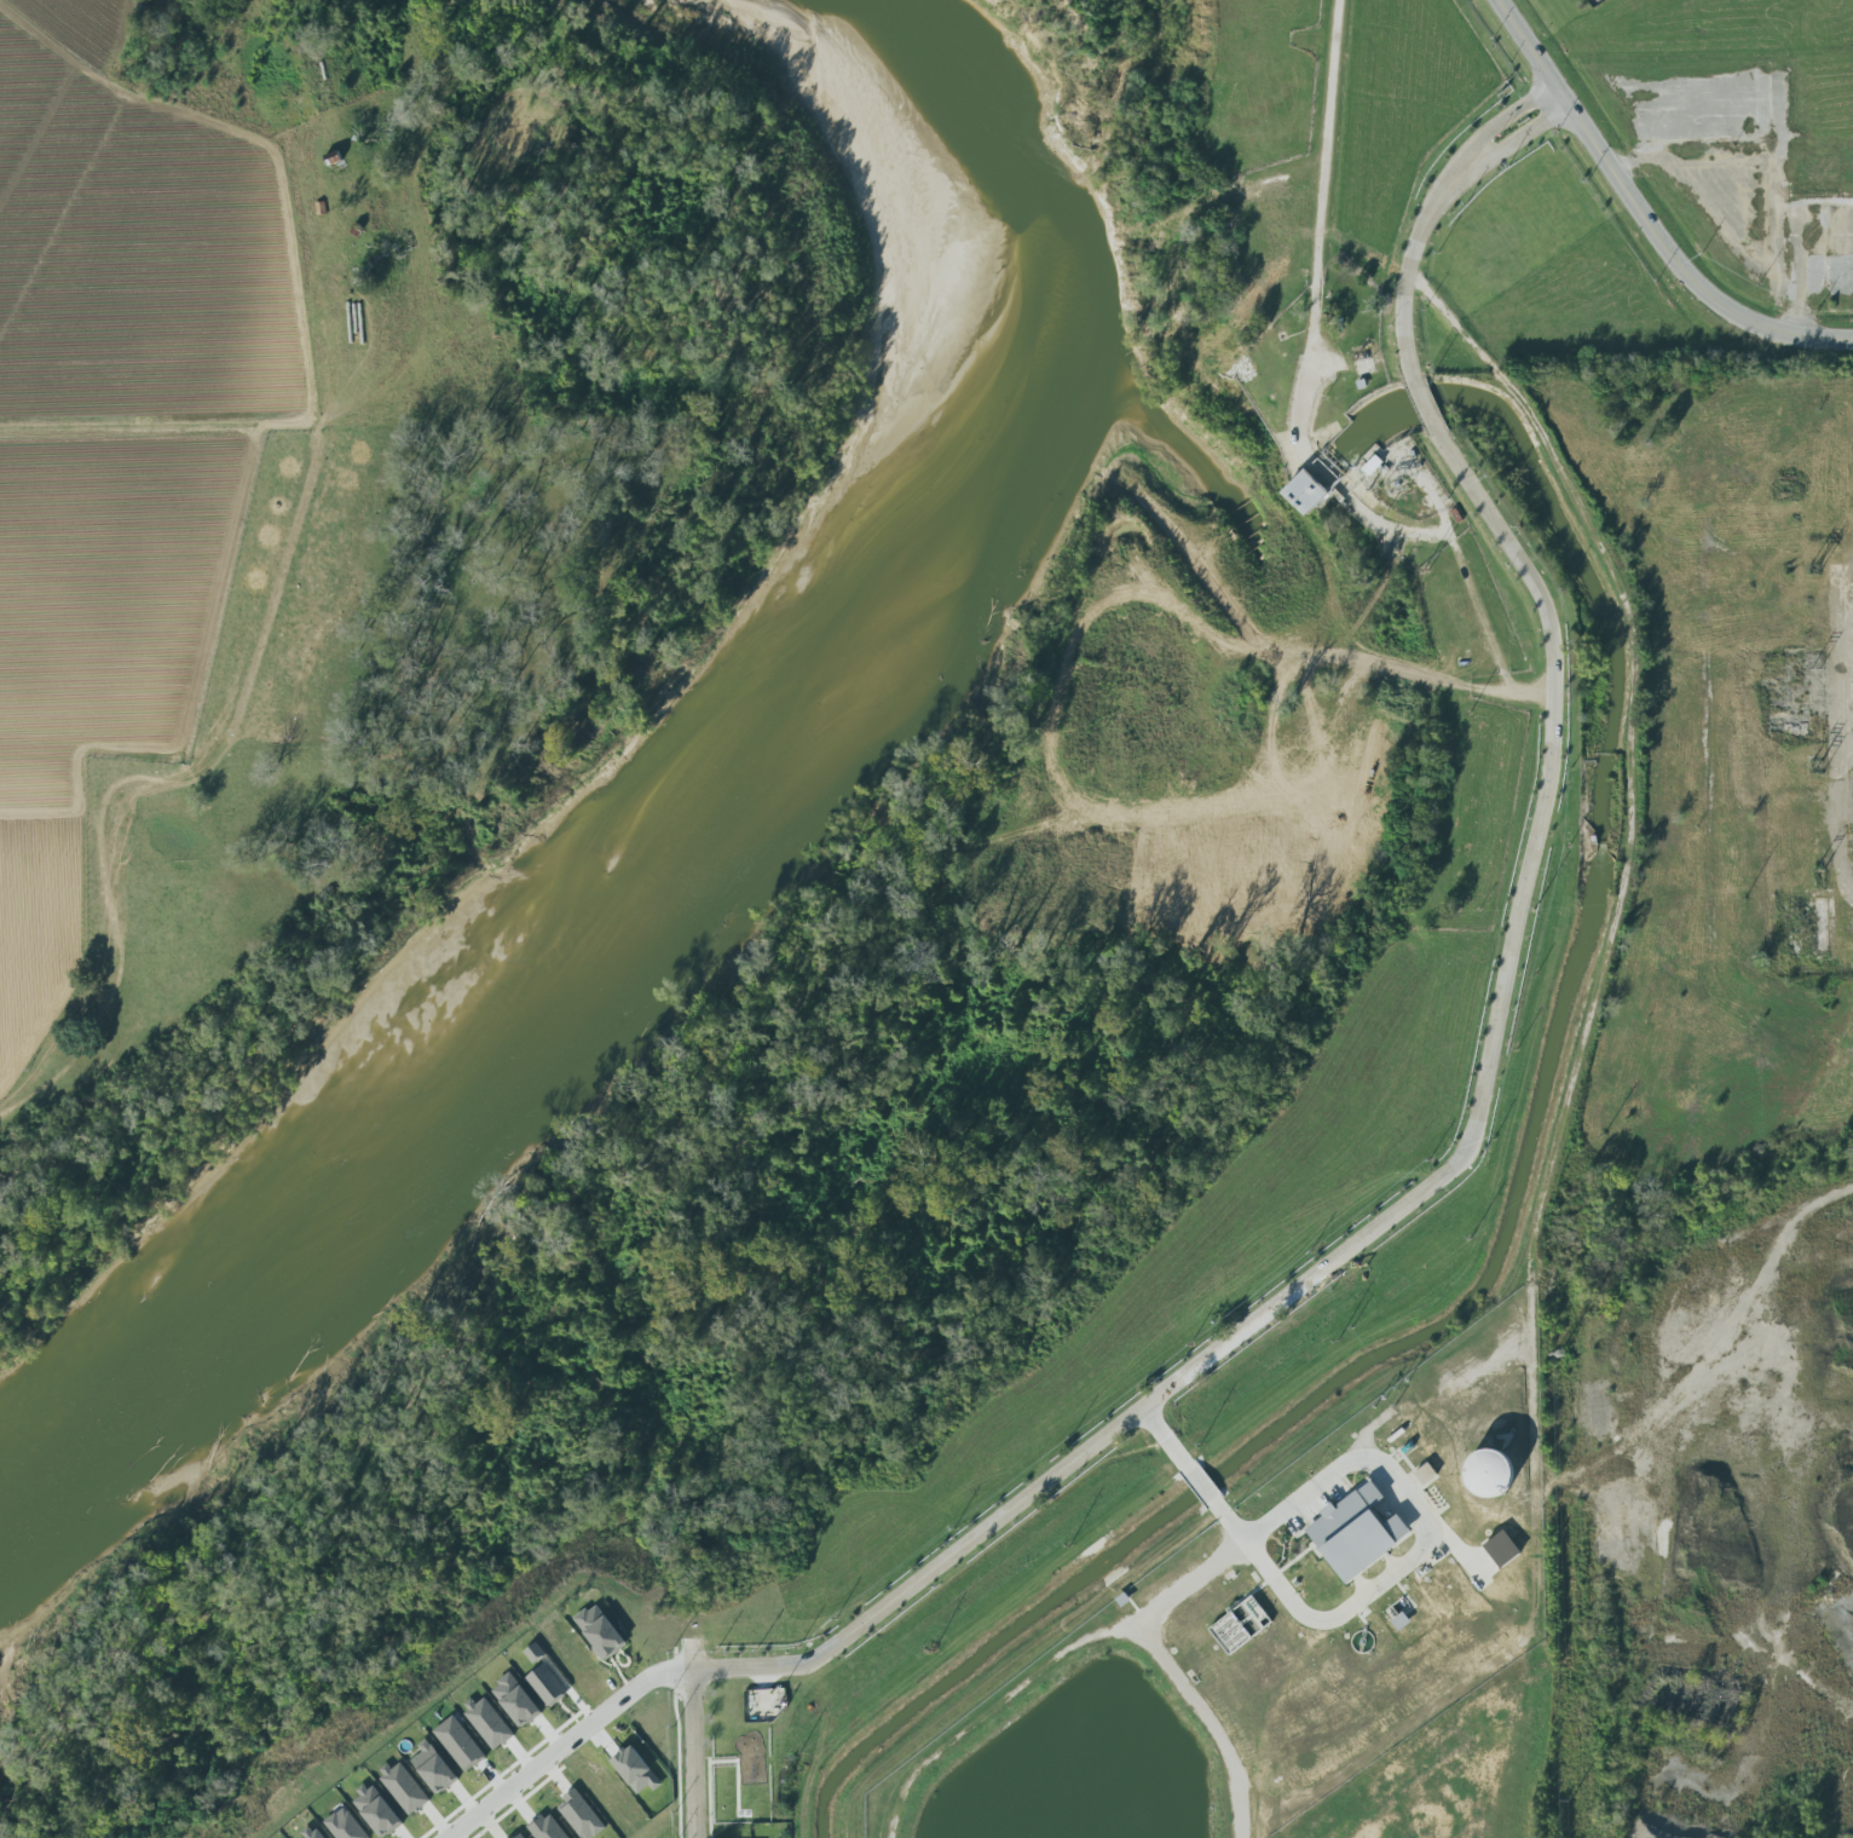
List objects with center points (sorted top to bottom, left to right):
road: (1512, 113)
flagpole: (1505, 132)
road: (1526, 134)
flagpole: (1500, 137)
road: (260, 145)
building: (336, 162)
road: (1327, 207)
road: (1640, 217)
road: (161, 431)
building: (1374, 466)
building: (1310, 494)
river: (722, 826)
road: (77, 1048)
road: (1443, 1163)
power tower: (1558, 1354)
road: (1162, 1437)
building: (1496, 1474)
road: (1196, 1487)
building: (1356, 1527)
building: (1505, 1549)
road: (1407, 1556)
building: (601, 1631)
building: (1236, 1631)
building: (536, 1653)
road: (1172, 1677)
building: (547, 1686)
building: (490, 1722)
road: (565, 1741)
building: (435, 1768)
building: (405, 1788)
building: (379, 1811)
building: (582, 1816)
building: (346, 1825)
building: (548, 1828)
building: (313, 1834)
building: (520, 1836)

